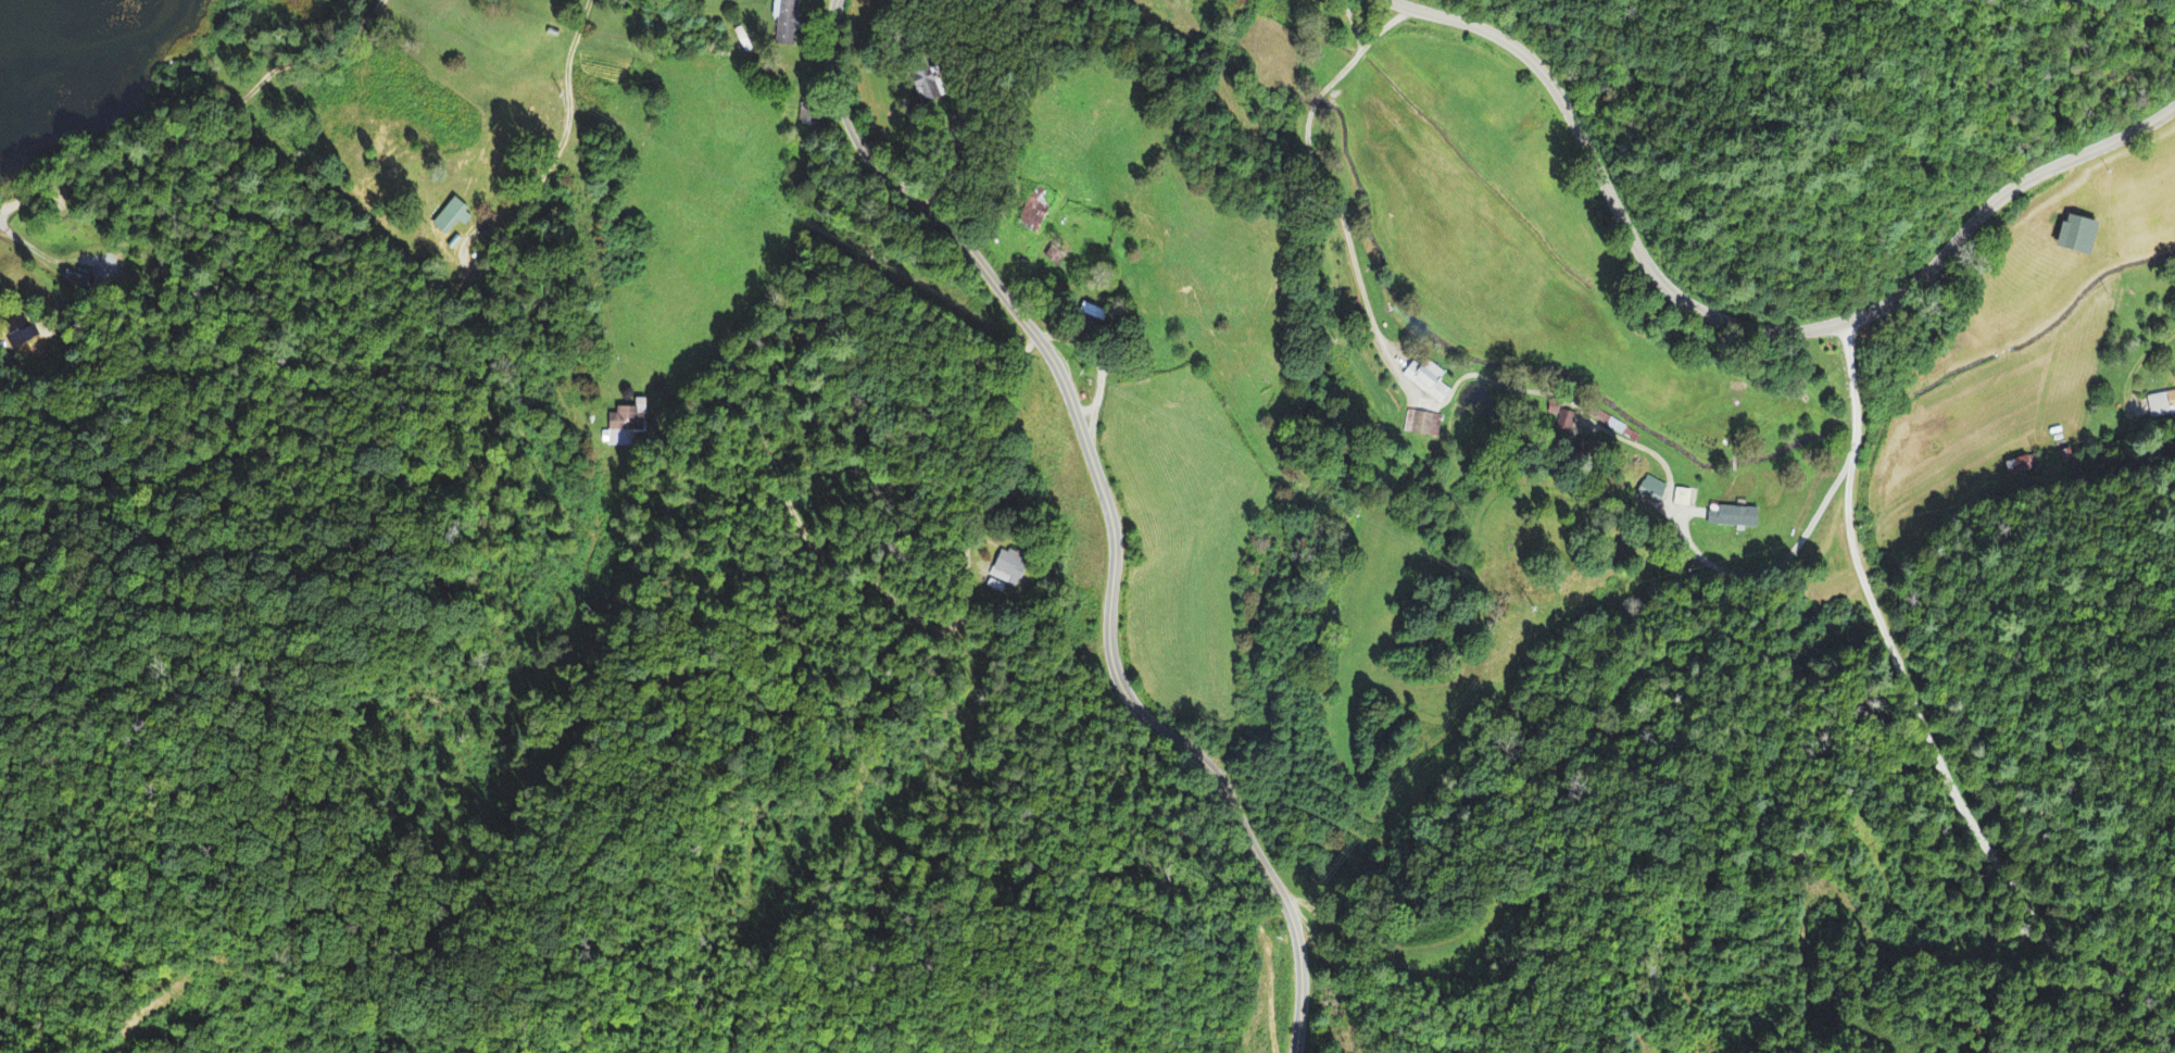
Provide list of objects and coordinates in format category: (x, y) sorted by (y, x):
building: (785, 23)
building: (929, 88)
road: (206, 127)
building: (1035, 213)
building: (453, 220)
building: (2082, 238)
building: (1096, 315)
road: (1740, 327)
building: (1430, 384)
building: (2162, 405)
building: (1561, 418)
building: (1423, 427)
building: (625, 429)
road: (971, 439)
building: (1652, 492)
building: (1683, 500)
road: (1099, 516)
building: (1735, 521)
building: (1009, 569)
road: (1921, 725)

